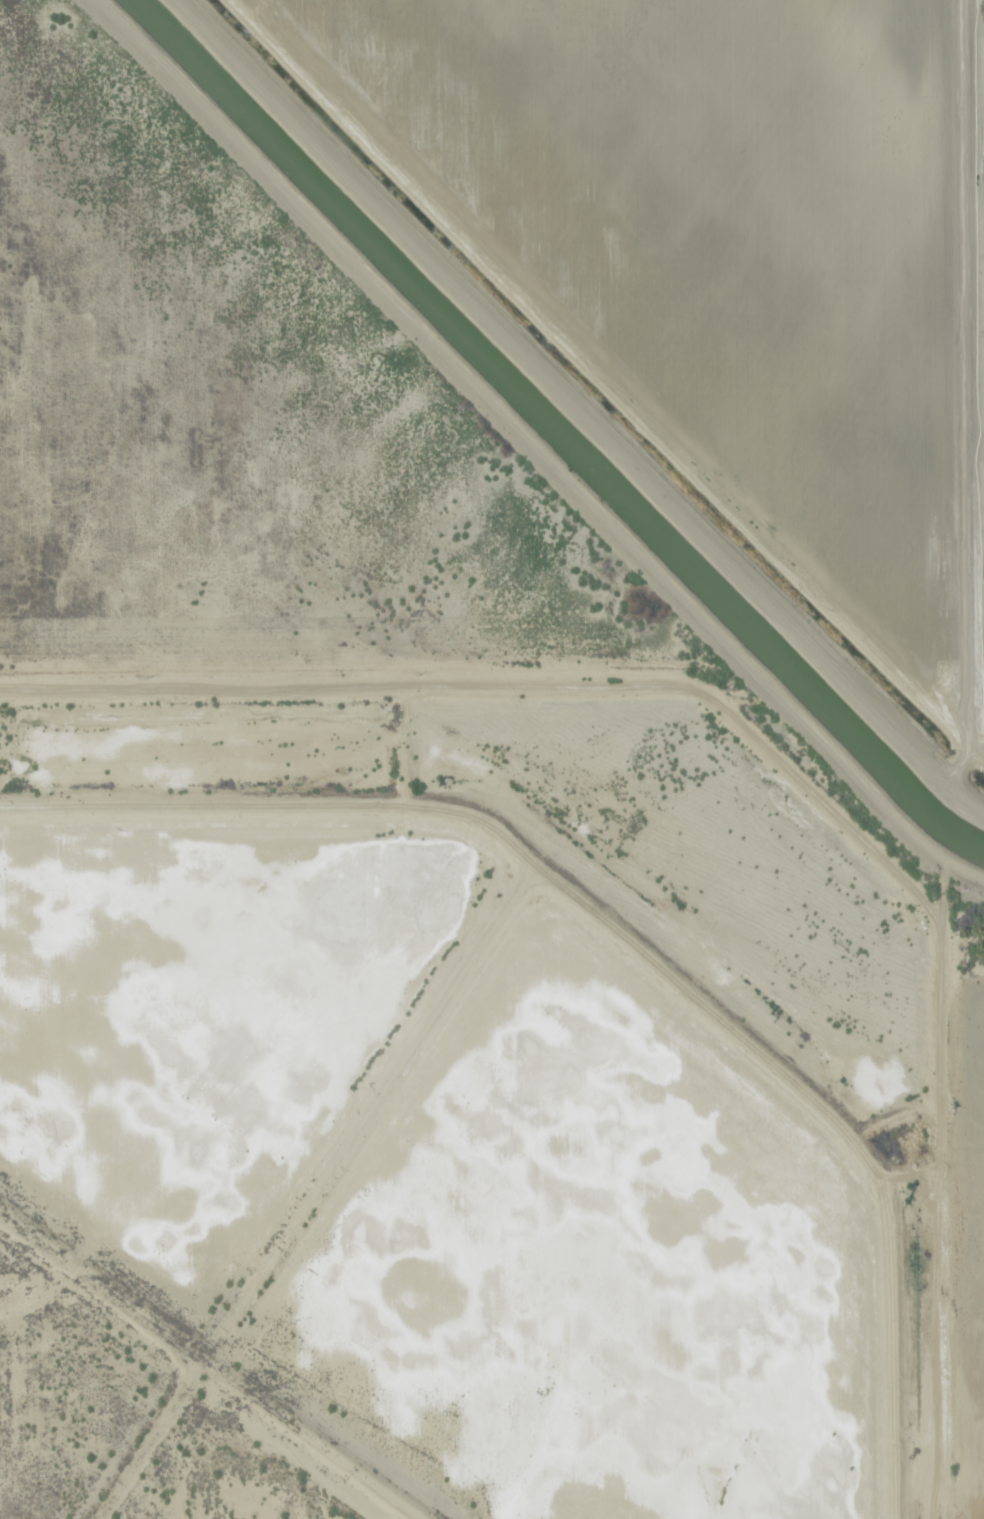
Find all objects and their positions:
road: (938, 64)
road: (893, 201)

